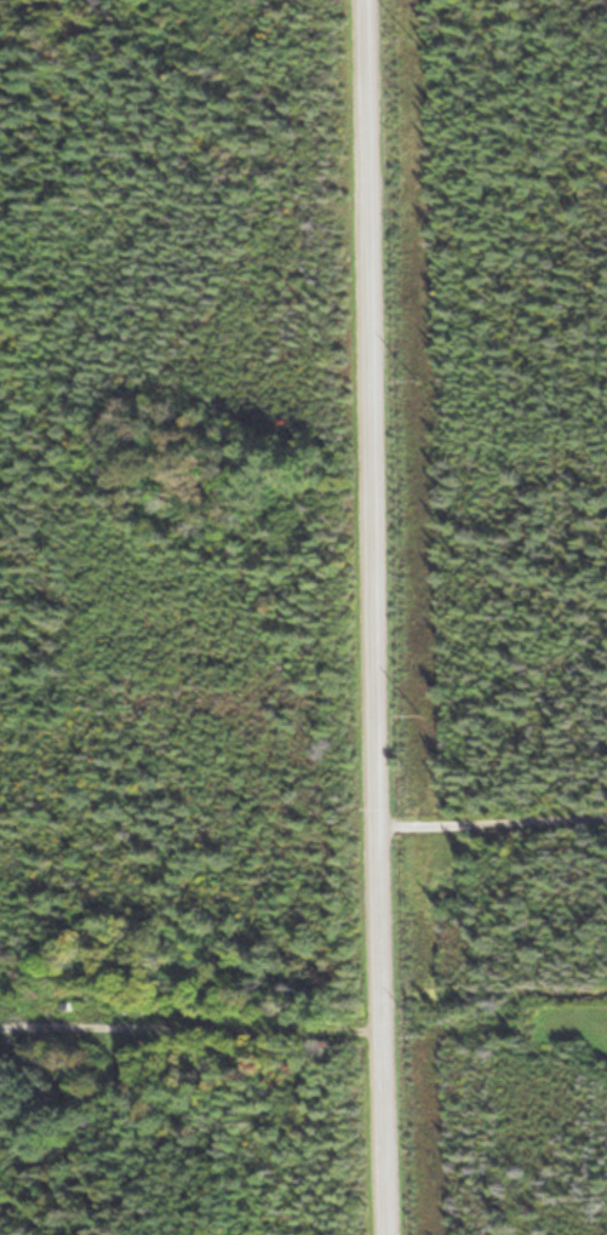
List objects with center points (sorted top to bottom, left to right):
road: (376, 617)

